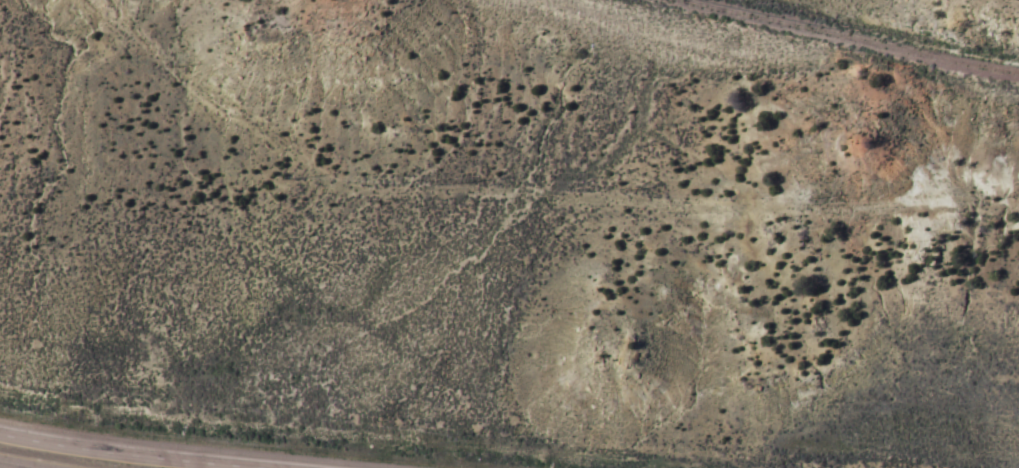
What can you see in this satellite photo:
railway: (853, 37)
road: (141, 453)
road: (13, 465)

